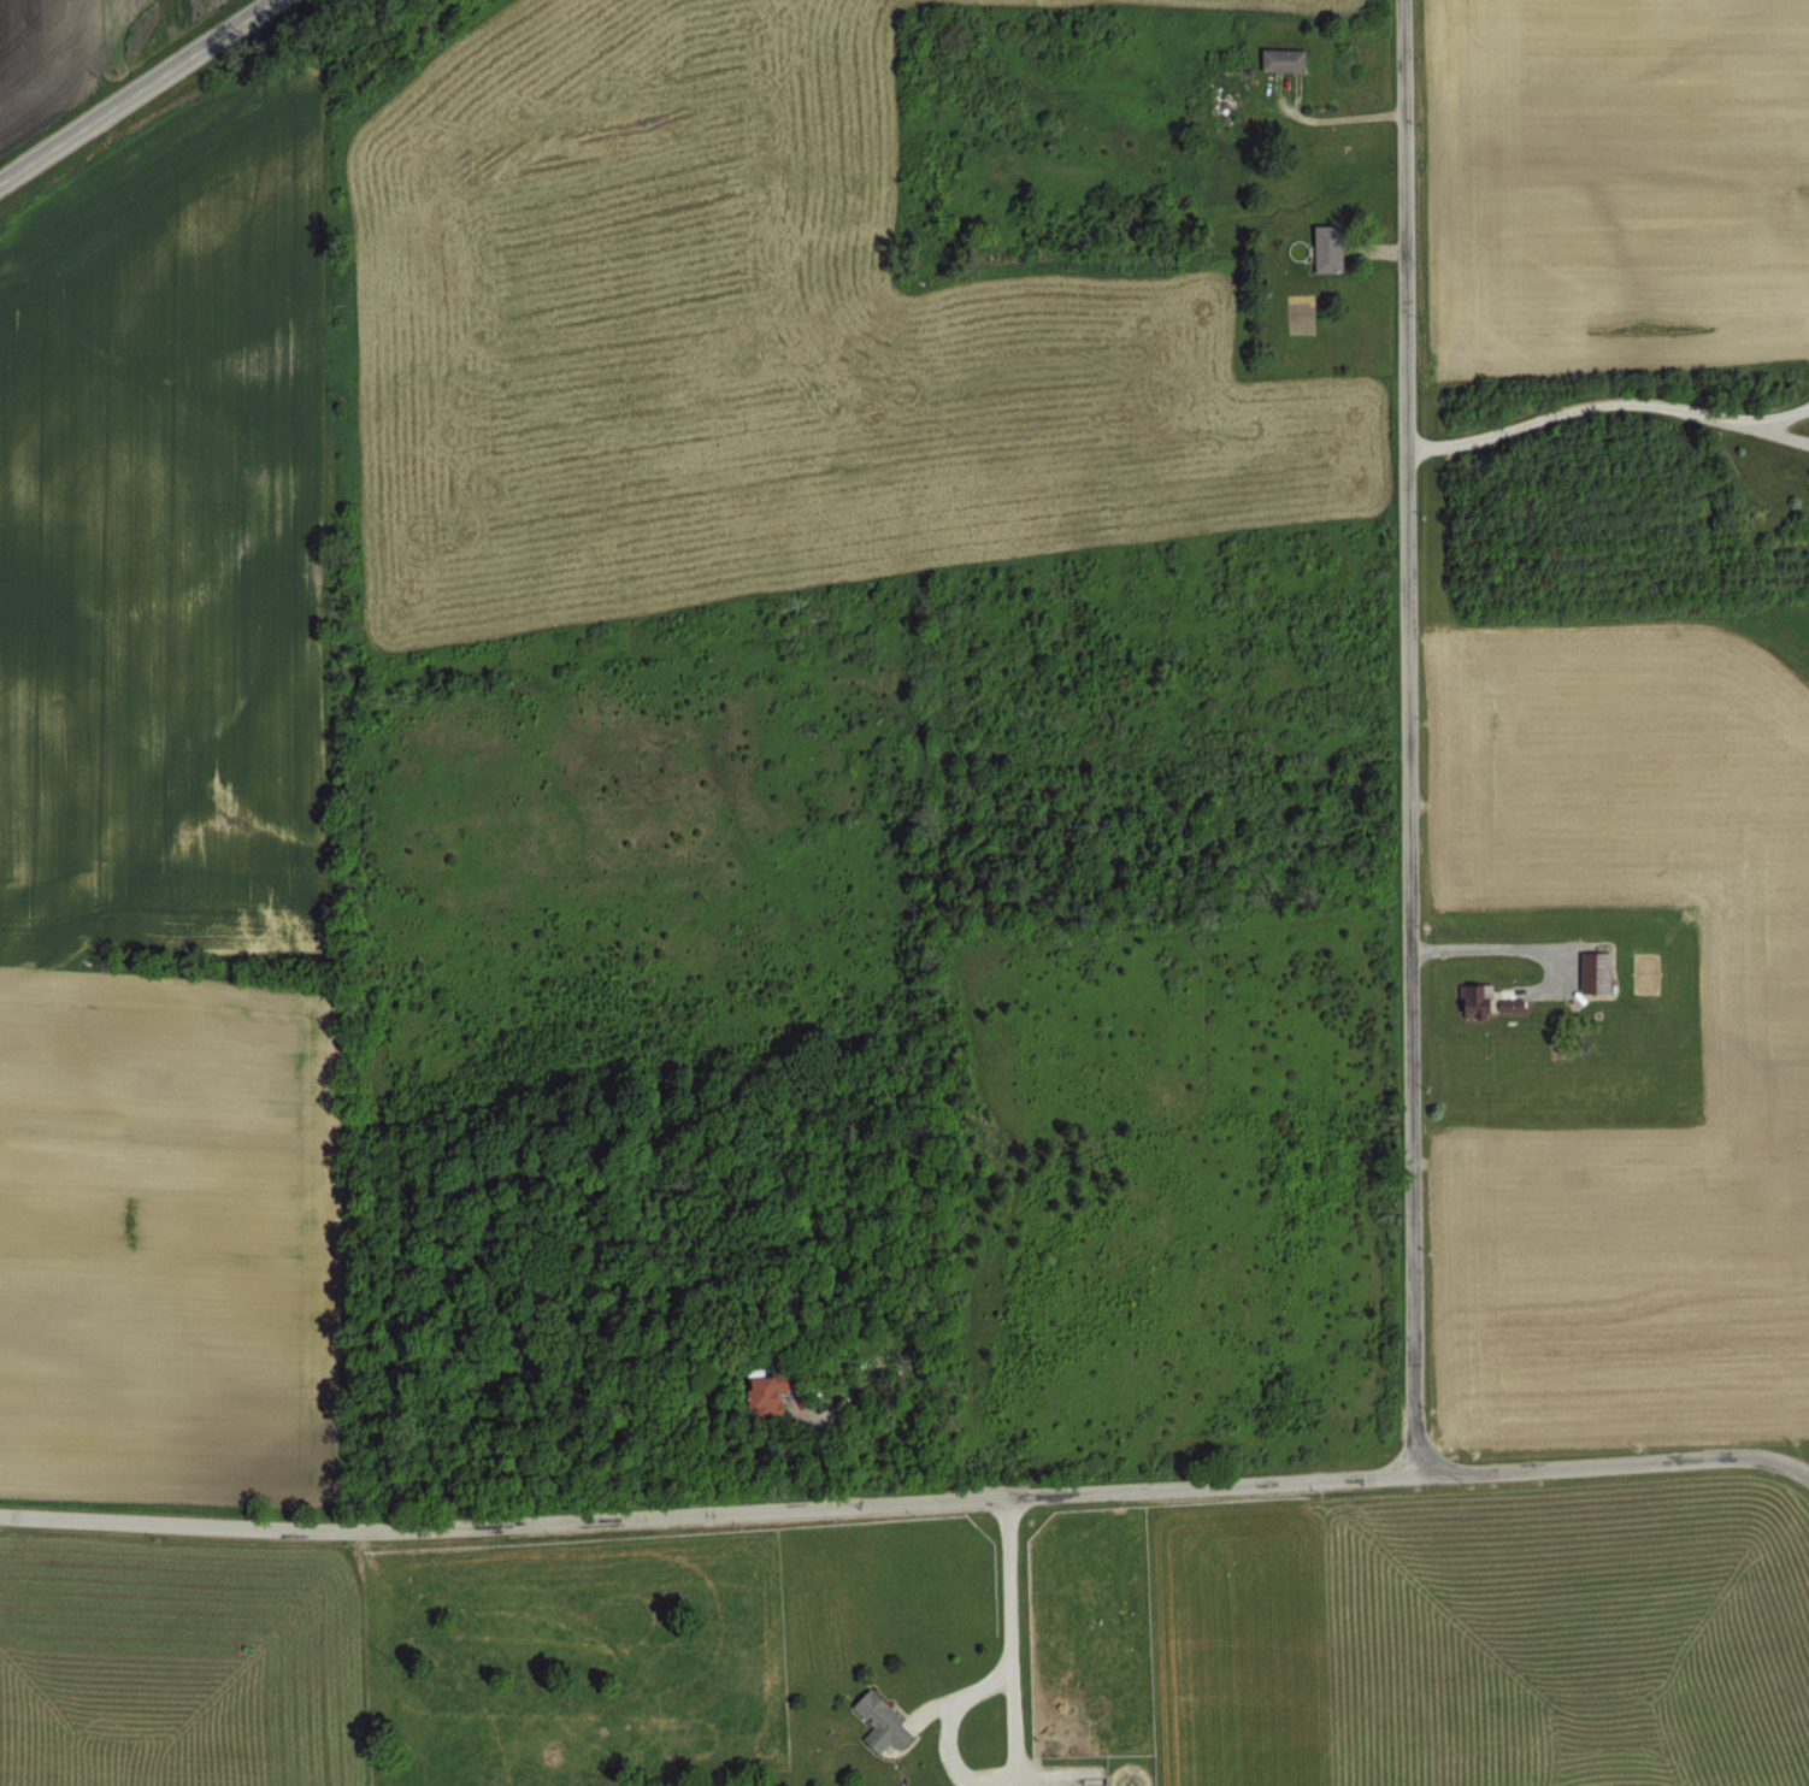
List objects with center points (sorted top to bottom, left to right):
building: (1278, 59)
road: (140, 93)
building: (1321, 248)
road: (1581, 405)
road: (1784, 414)
road: (1784, 434)
crop: (696, 702)
crop: (1603, 715)
road: (1409, 736)
building: (1569, 937)
road: (1512, 947)
building: (1646, 953)
building: (1590, 969)
building: (1481, 998)
building: (774, 1393)
road: (906, 1499)
crop: (897, 1598)
road: (1009, 1634)
road: (926, 1705)
road: (944, 1710)
building: (874, 1719)
road: (1002, 1780)

